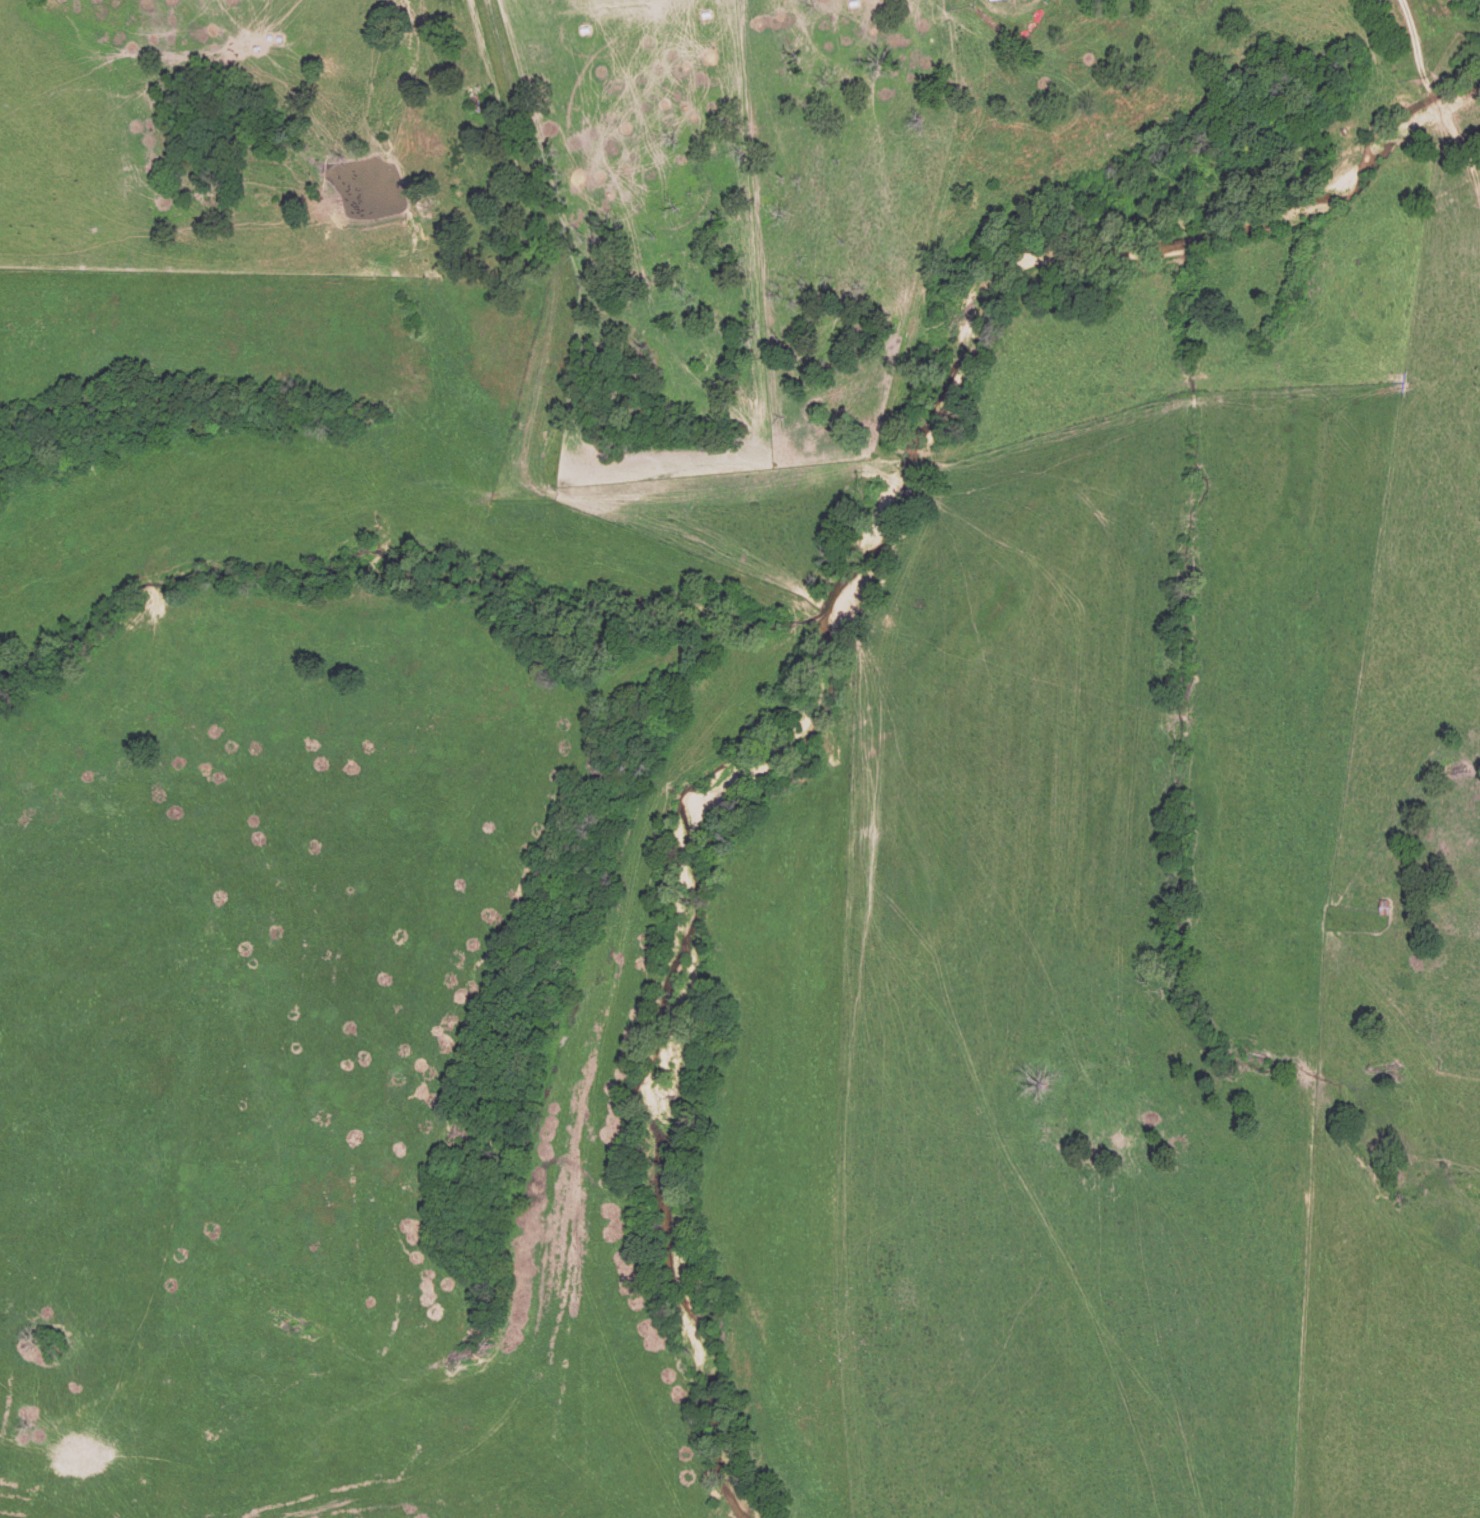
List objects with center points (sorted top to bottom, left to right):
building: (997, 0)

